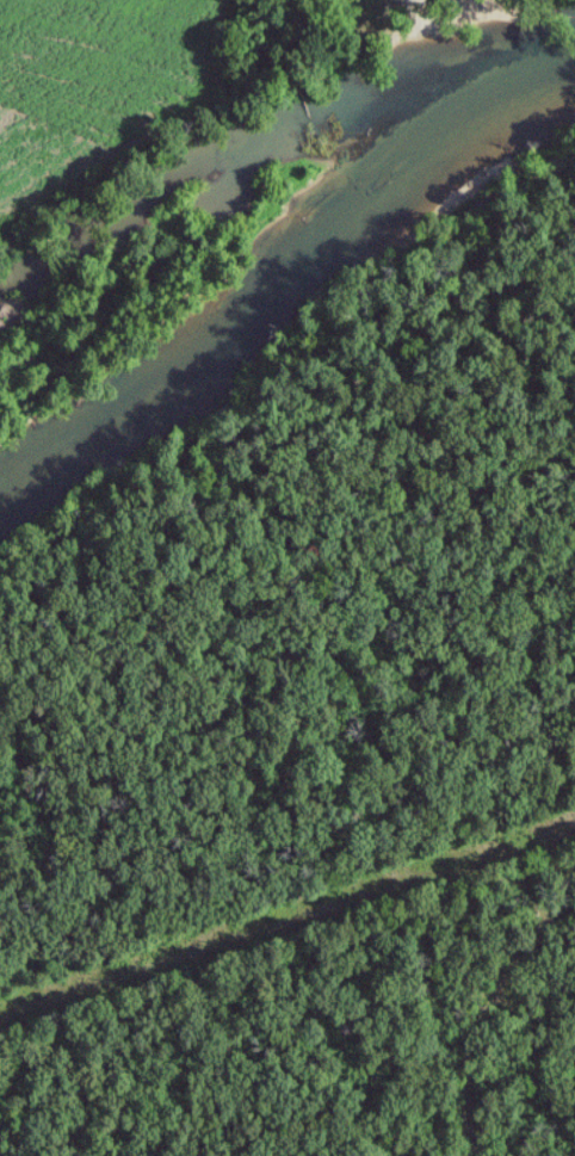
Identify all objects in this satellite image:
river: (291, 271)

